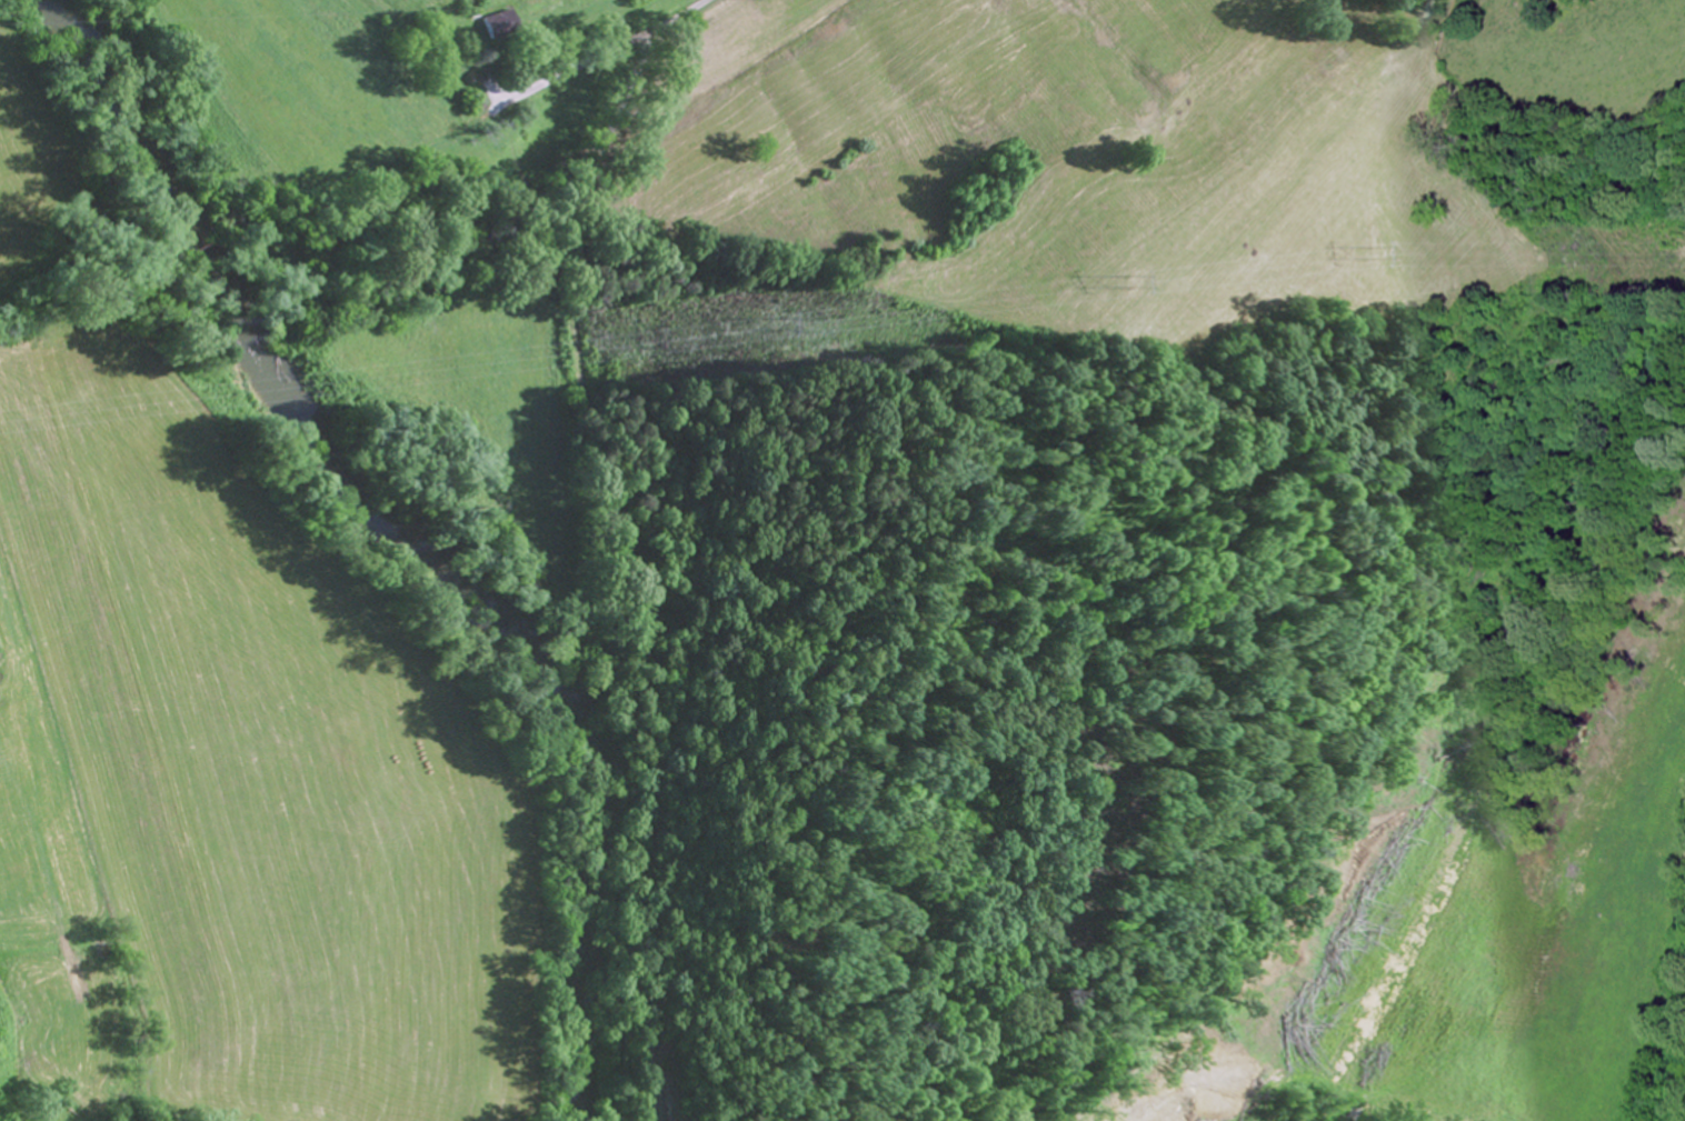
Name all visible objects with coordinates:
building: (502, 31)
road: (604, 58)
river: (396, 546)

